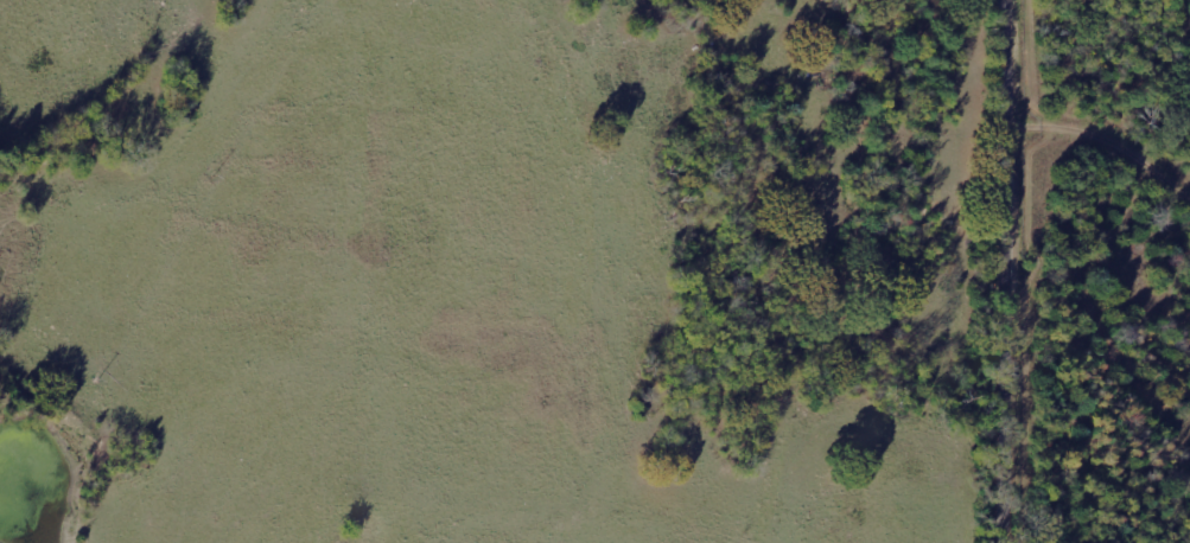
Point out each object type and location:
road: (1005, 270)

